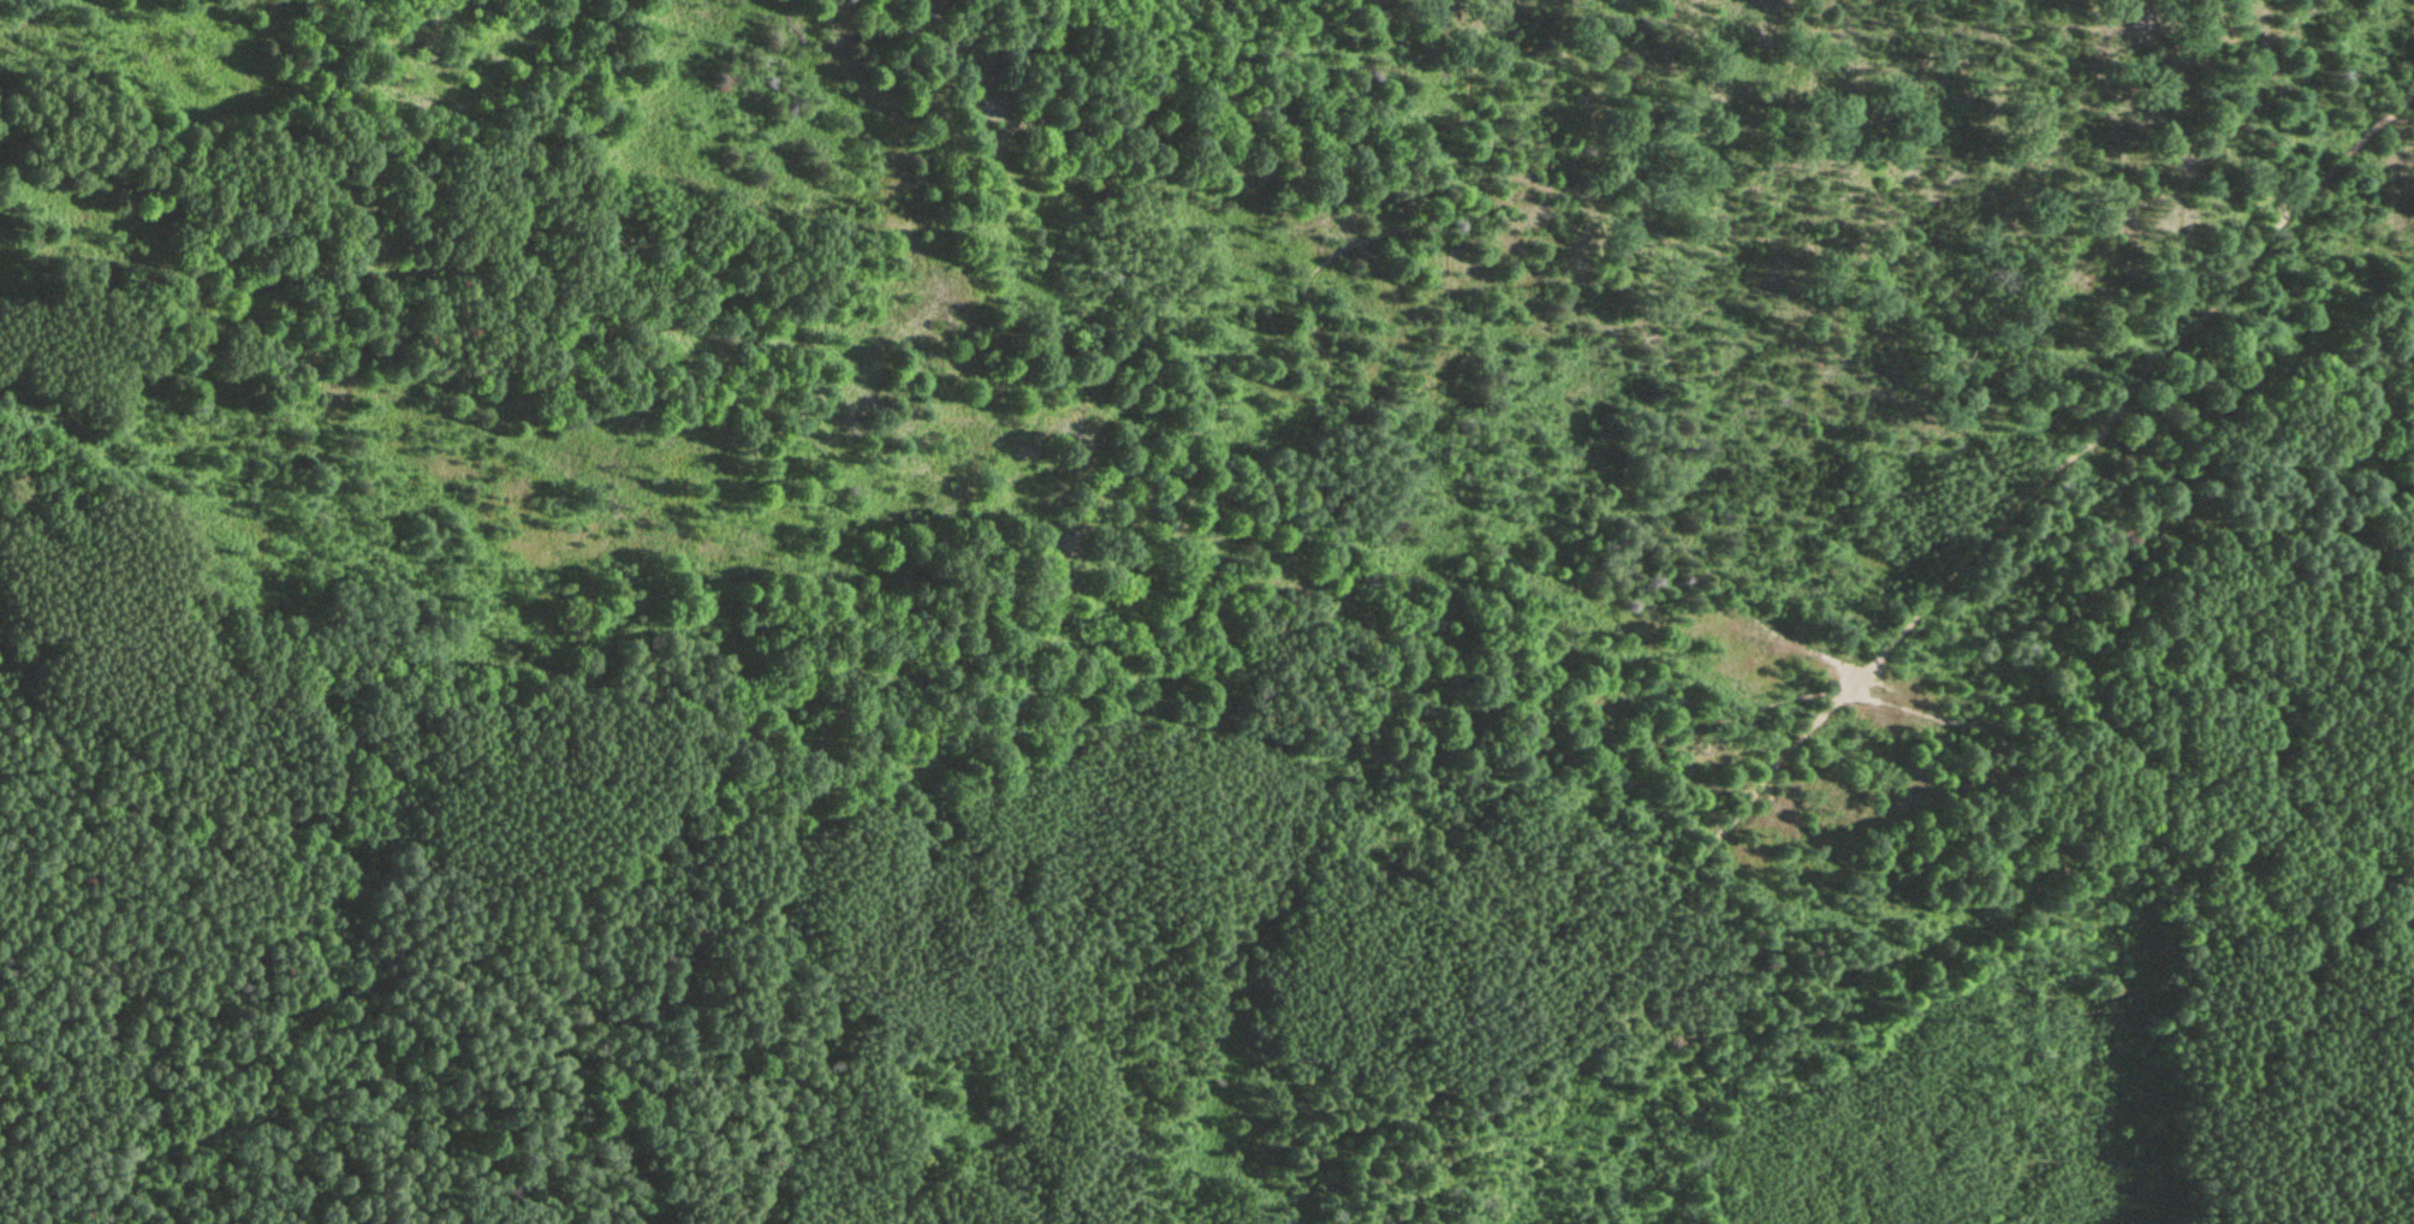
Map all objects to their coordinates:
road: (1272, 41)
road: (1592, 130)
road: (1892, 642)
road: (1904, 705)

